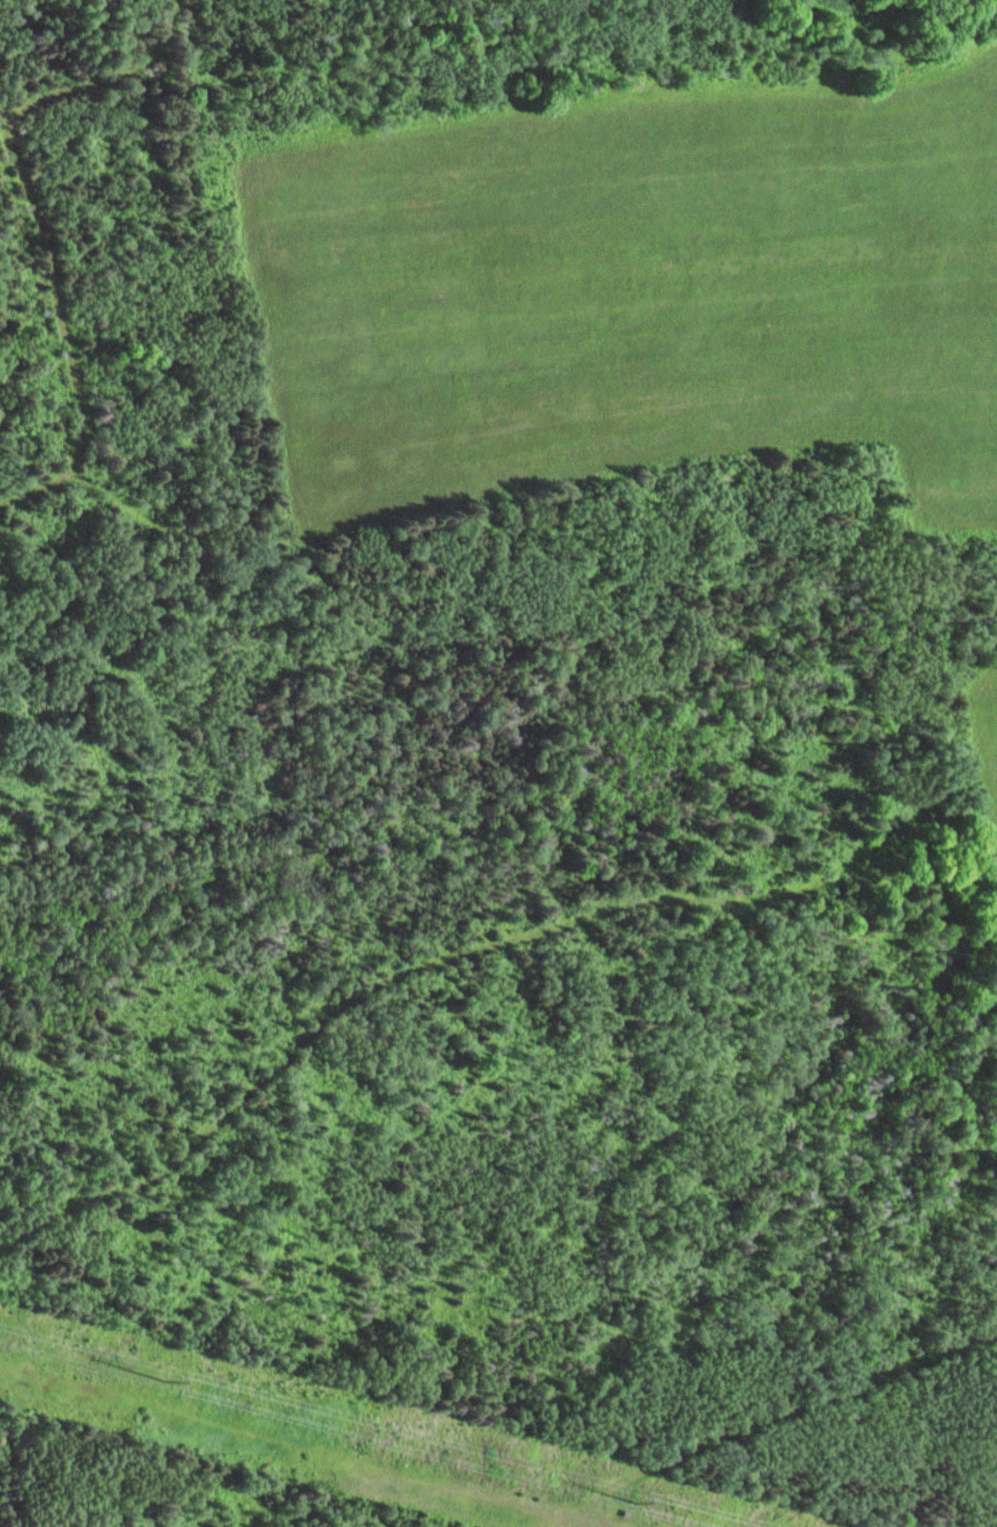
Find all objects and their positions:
road: (47, 233)
power tower: (161, 1384)
power tower: (633, 1506)

